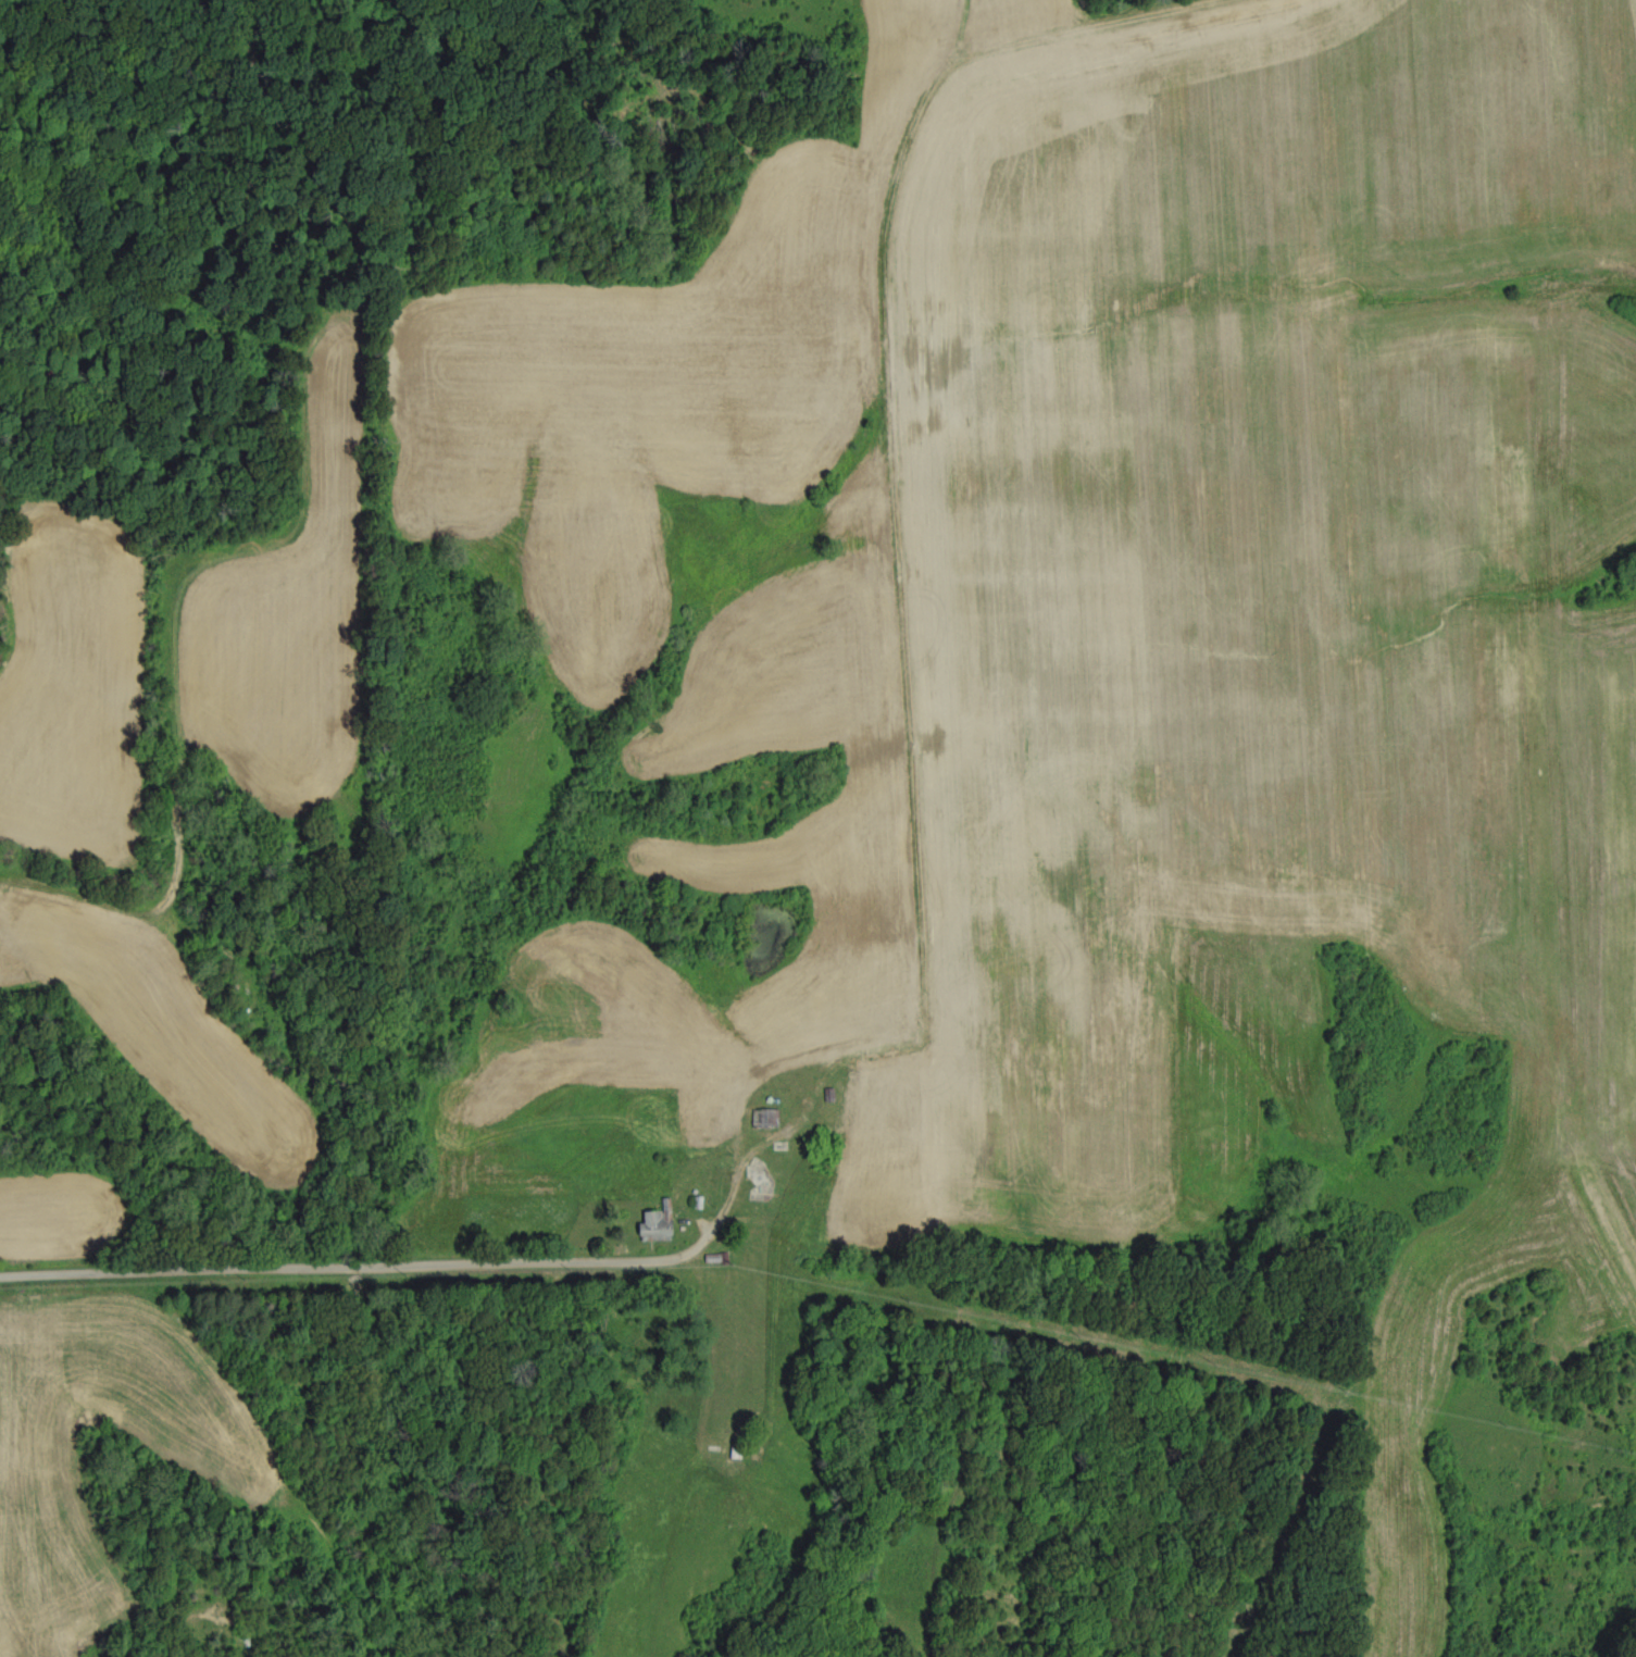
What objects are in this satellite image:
building: (657, 1222)
road: (333, 1271)

